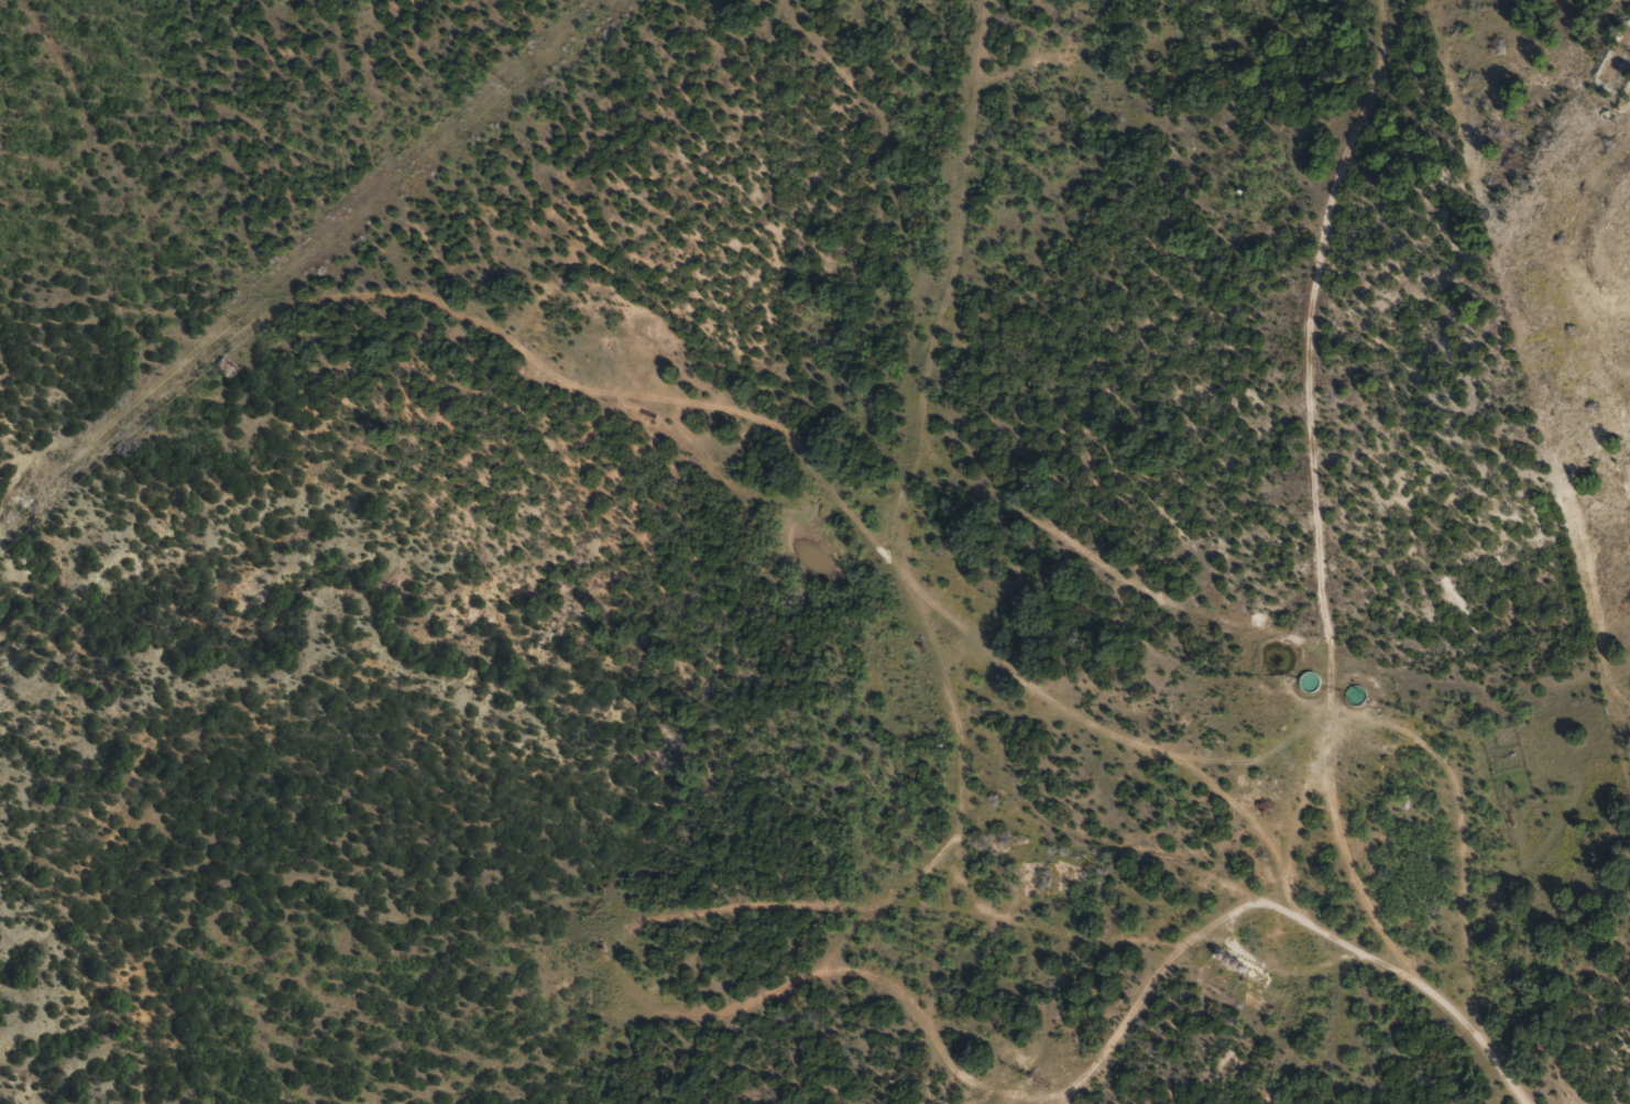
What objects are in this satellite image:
power tower: (510, 86)
power tower: (239, 320)

